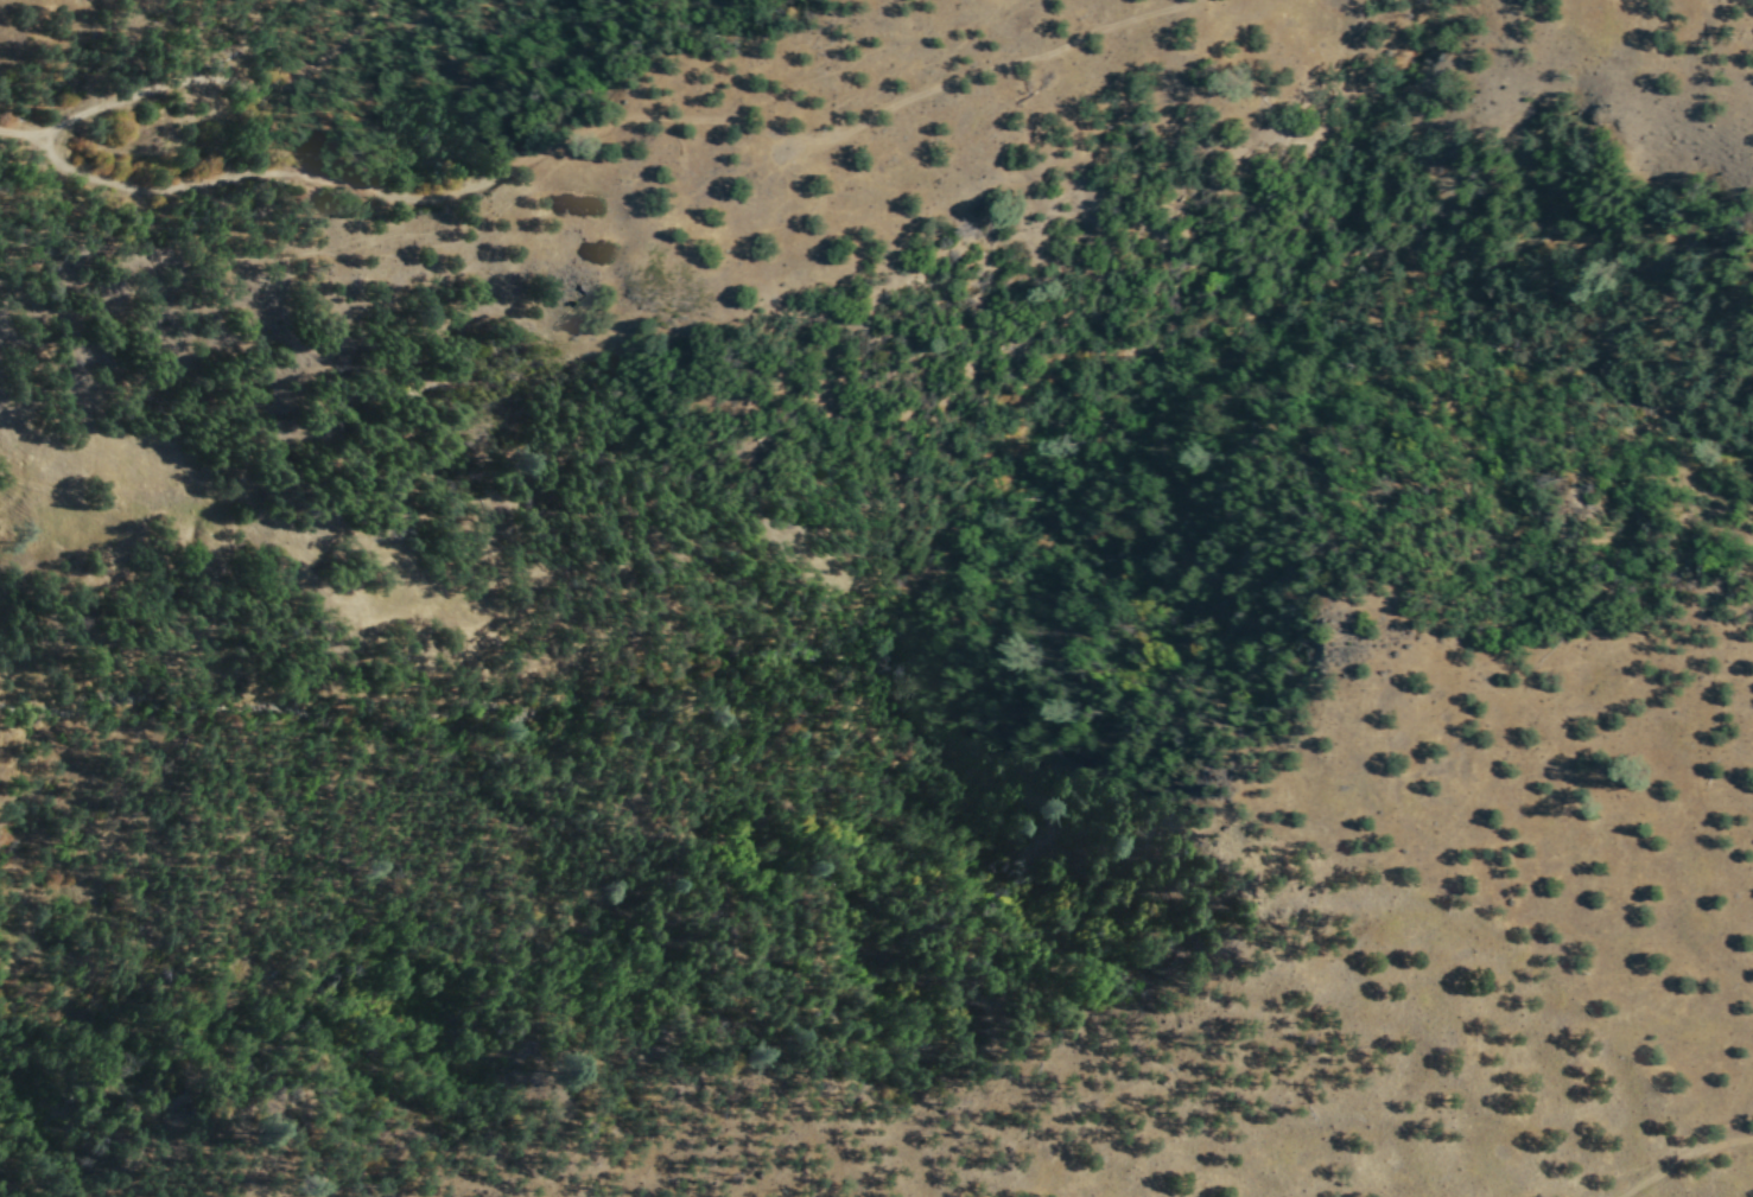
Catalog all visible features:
road: (618, 119)
road: (28, 133)
road: (1677, 1153)

